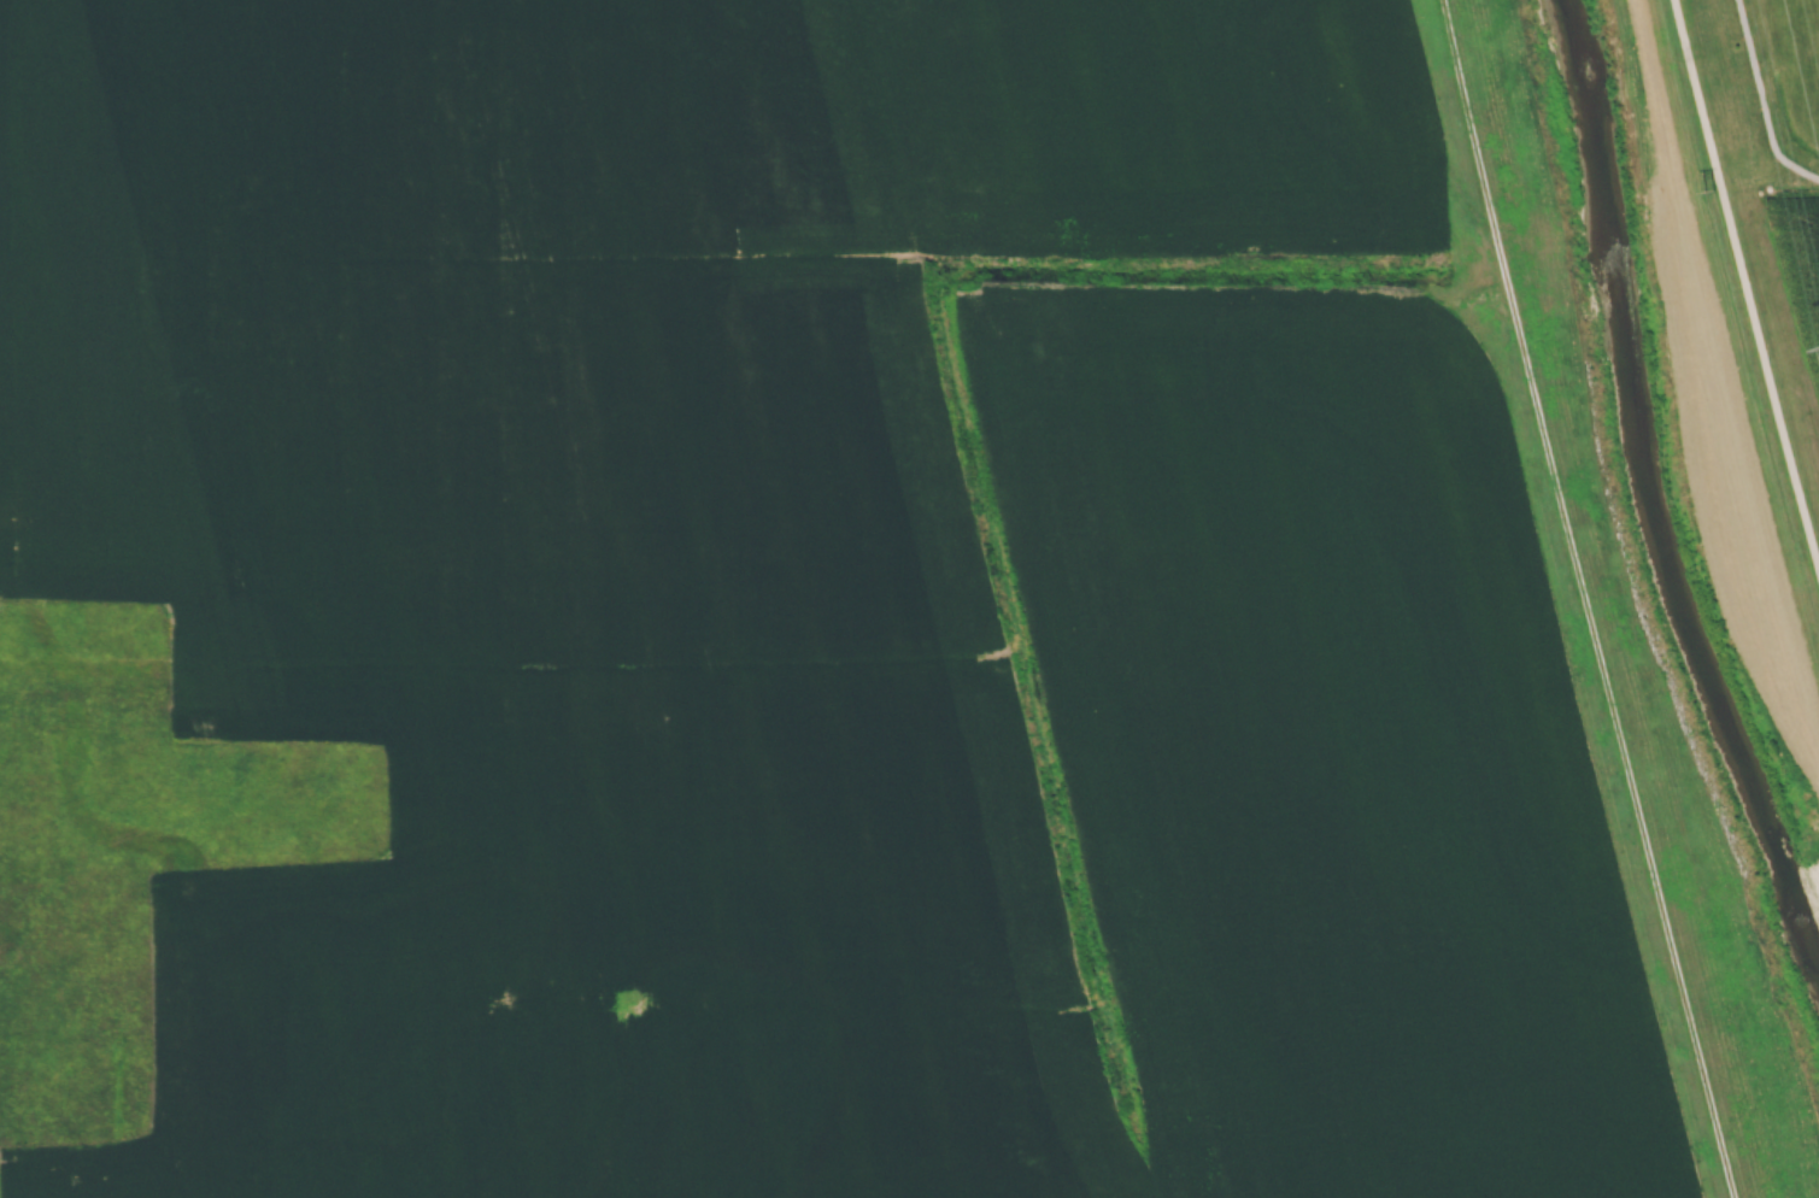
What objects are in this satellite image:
park: (1747, 89)
road: (1761, 100)
power tower: (1701, 198)
crop: (1808, 228)
road: (1744, 280)
river: (1645, 493)

